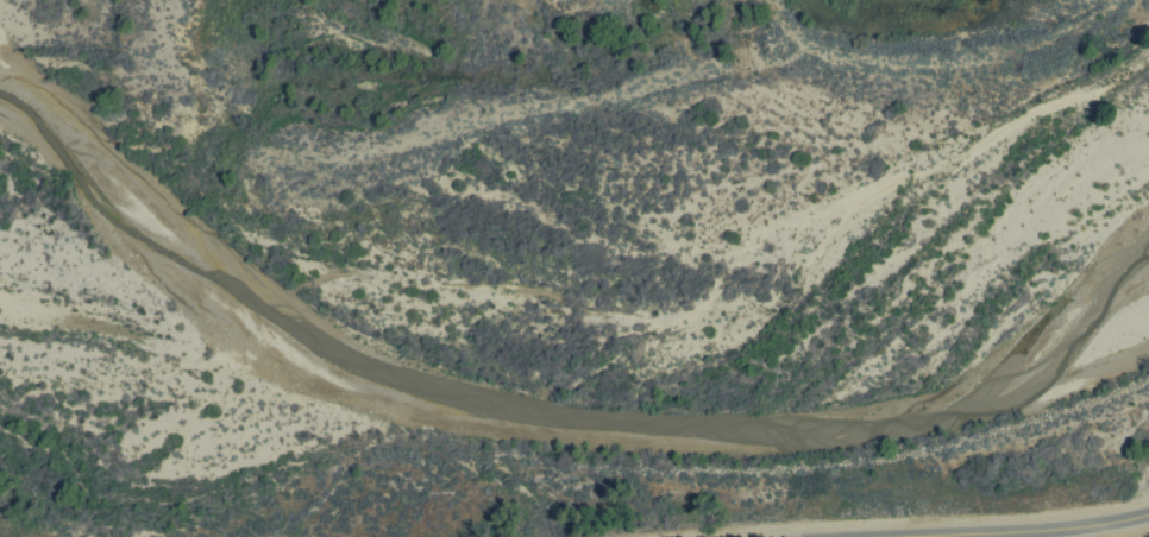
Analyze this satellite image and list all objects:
river: (627, 24)
river: (334, 236)
road: (1117, 530)

